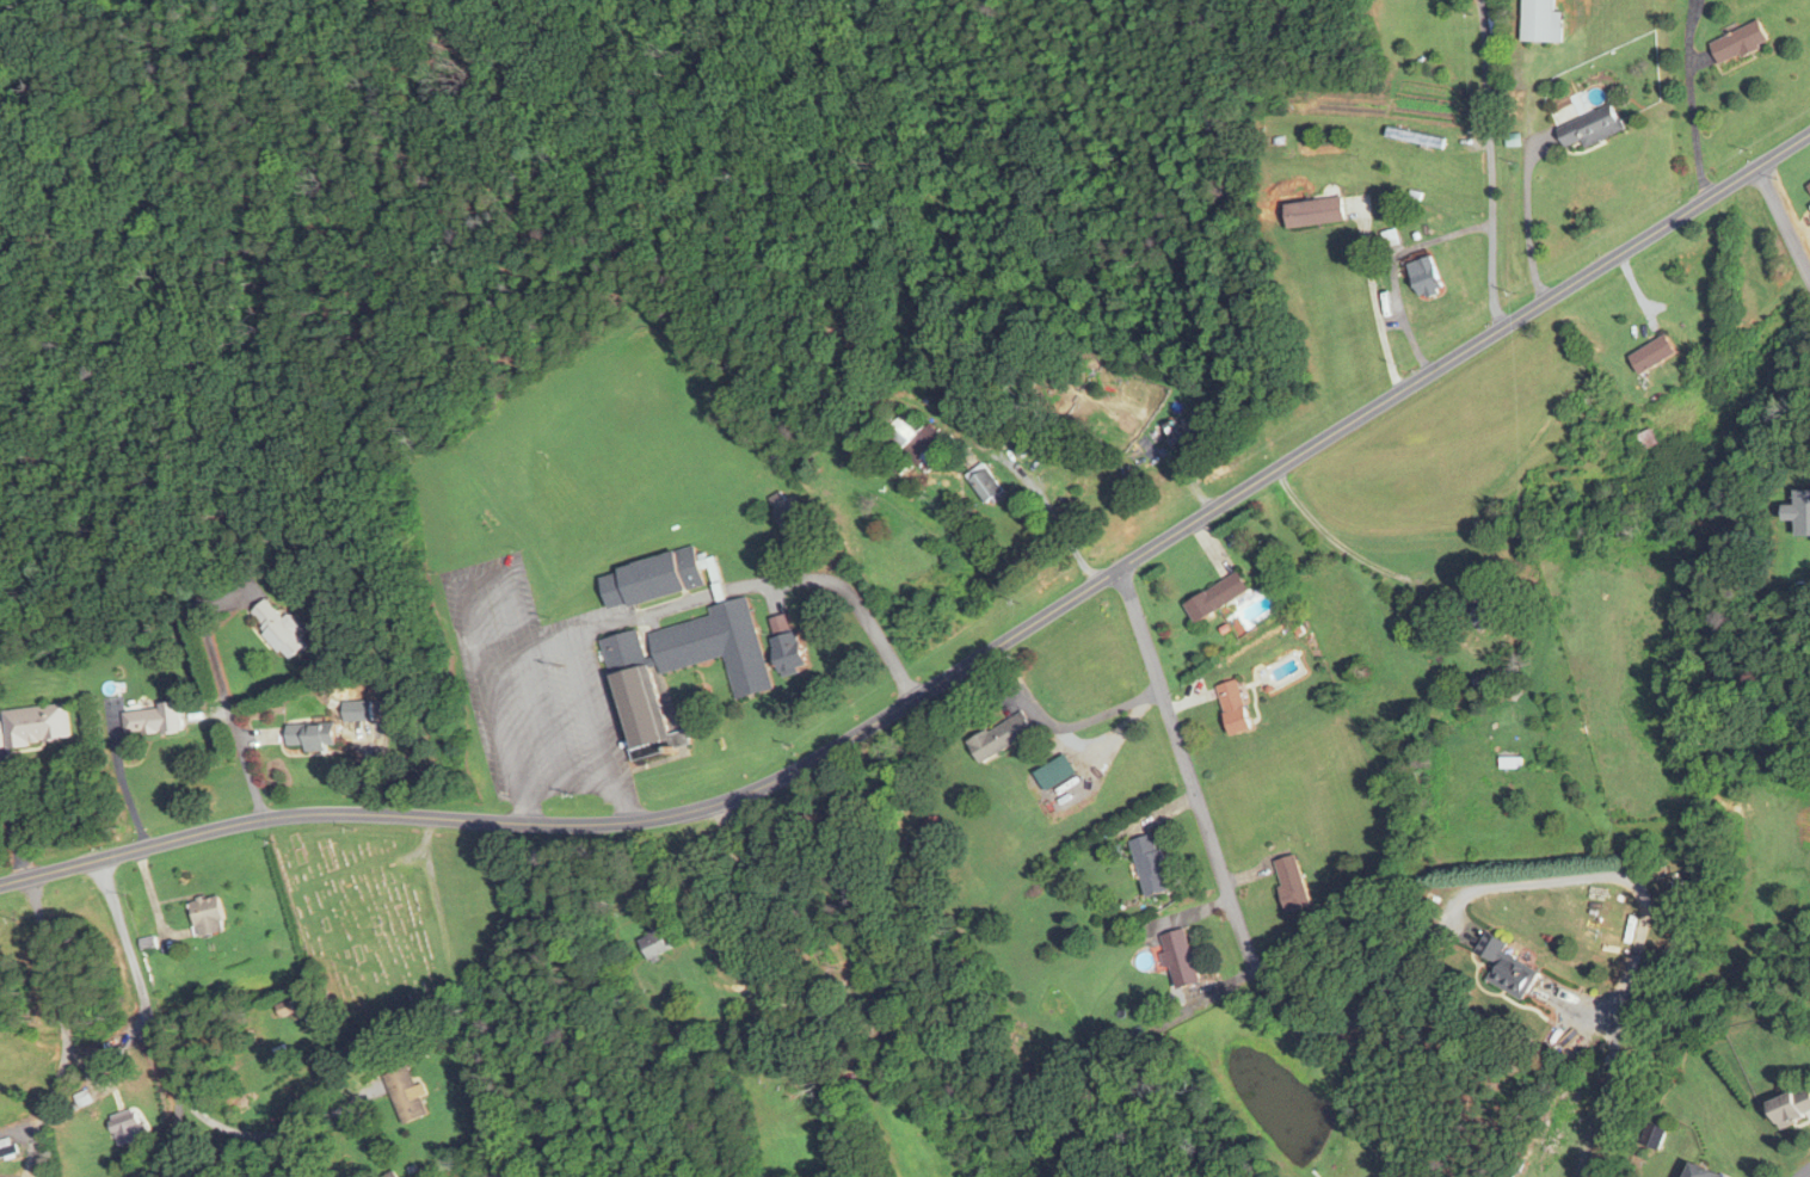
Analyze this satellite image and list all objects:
building: (1540, 21)
building: (1738, 43)
road: (1692, 127)
building: (1590, 128)
road: (1488, 165)
building: (1808, 189)
building: (1315, 211)
road: (1784, 222)
road: (1525, 224)
building: (1424, 276)
road: (1383, 303)
road: (1414, 338)
building: (1654, 353)
building: (1646, 438)
building: (913, 439)
building: (985, 483)
building: (1799, 513)
building: (651, 579)
building: (1217, 596)
road: (851, 597)
building: (279, 628)
building: (716, 646)
road: (540, 647)
building: (788, 653)
road: (959, 670)
building: (1479, 684)
road: (223, 691)
building: (639, 697)
building: (1233, 707)
building: (357, 710)
building: (150, 720)
building: (36, 725)
building: (313, 735)
building: (1786, 735)
building: (1001, 737)
road: (121, 775)
road: (566, 788)
road: (11, 832)
road: (1211, 844)
building: (1151, 864)
building: (1292, 883)
road: (1480, 892)
building: (207, 916)
building: (654, 944)
building: (1178, 957)
building: (1508, 970)
building: (287, 1007)
road: (148, 1017)
road: (63, 1027)
building: (824, 1027)
building: (666, 1048)
building: (405, 1093)
road: (47, 1103)
building: (1791, 1107)
building: (127, 1127)
building: (6, 1147)
building: (1699, 1171)
road: (1804, 1172)

